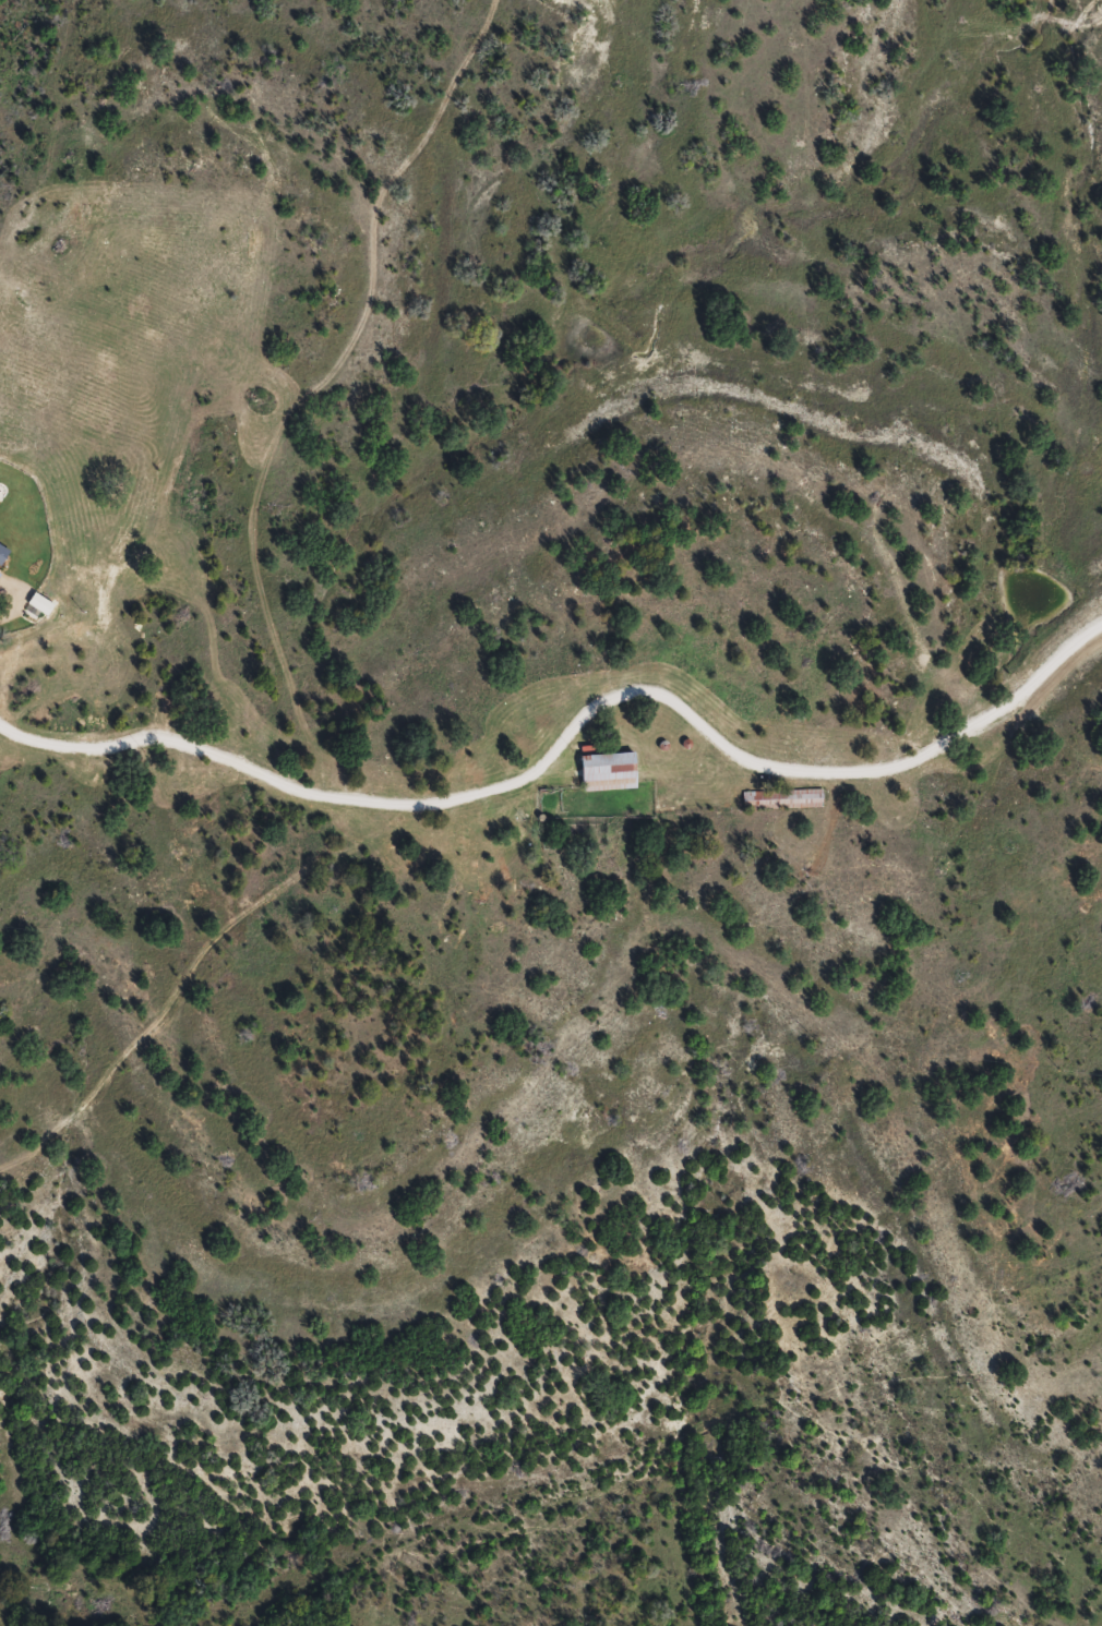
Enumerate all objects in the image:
building: (613, 770)

